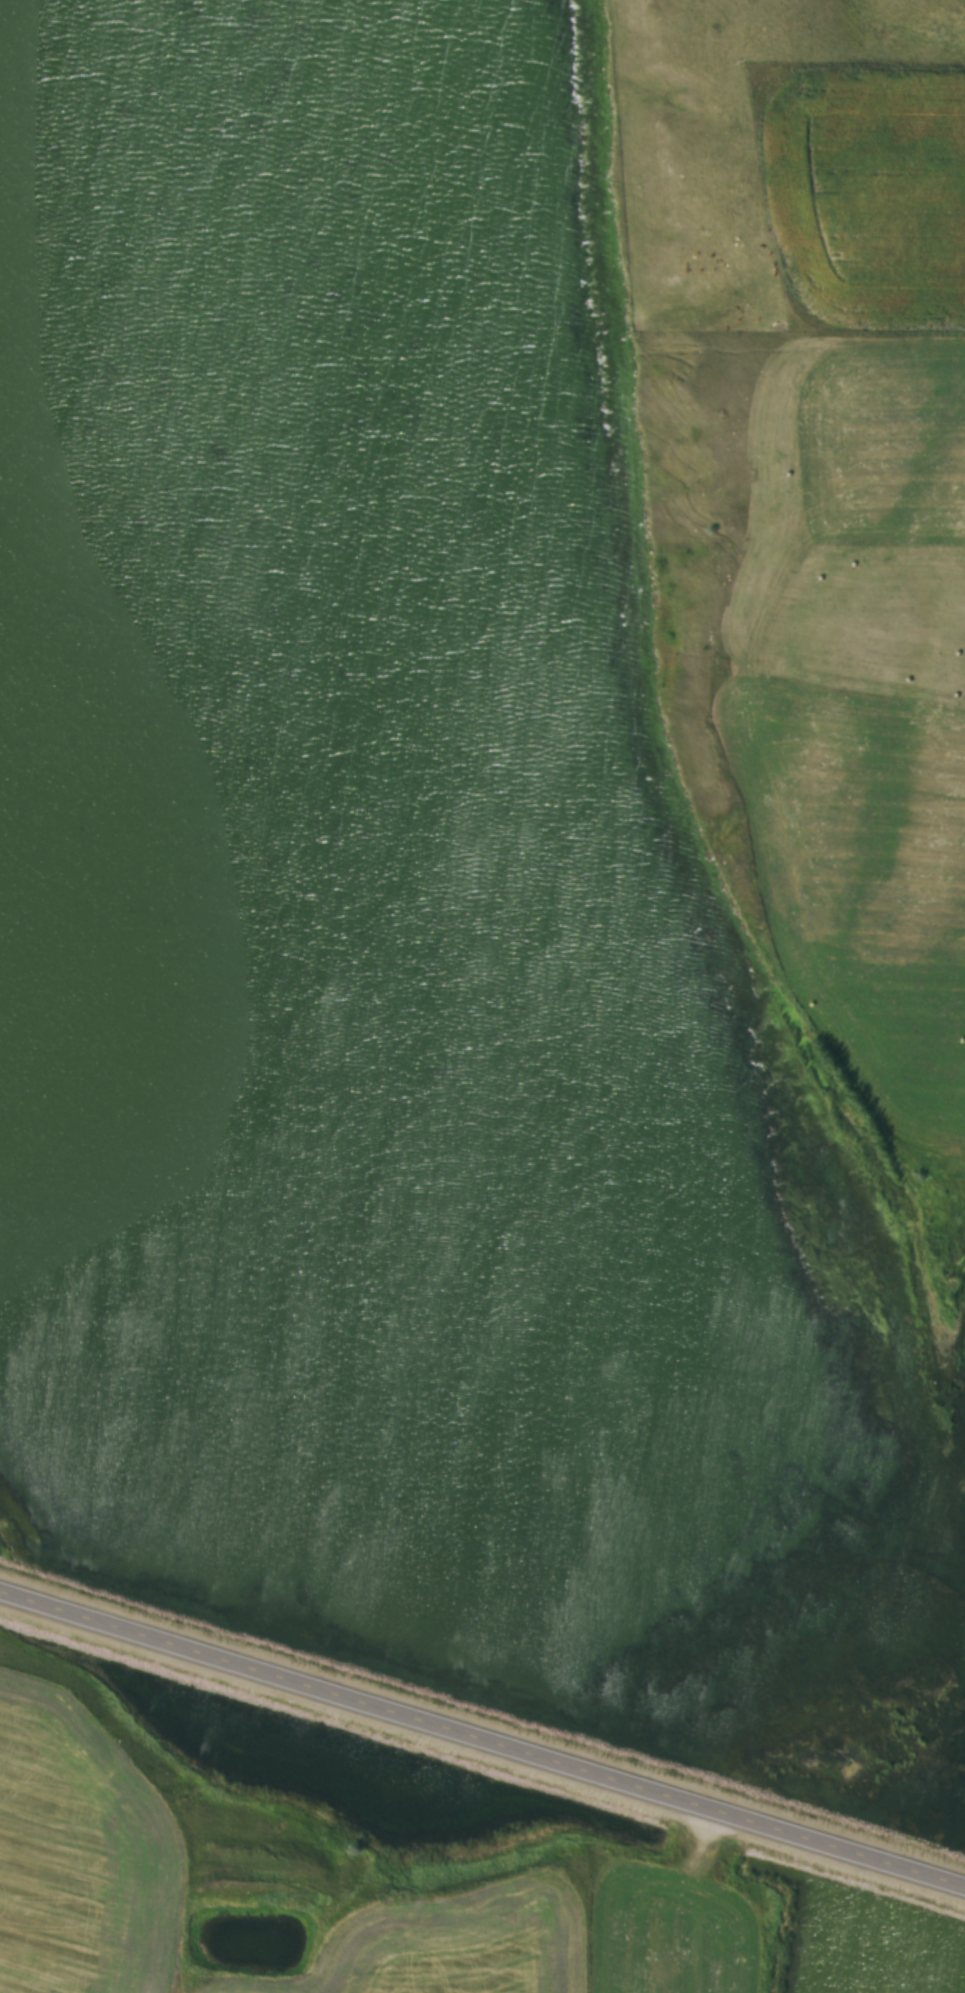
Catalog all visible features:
road: (482, 1742)

